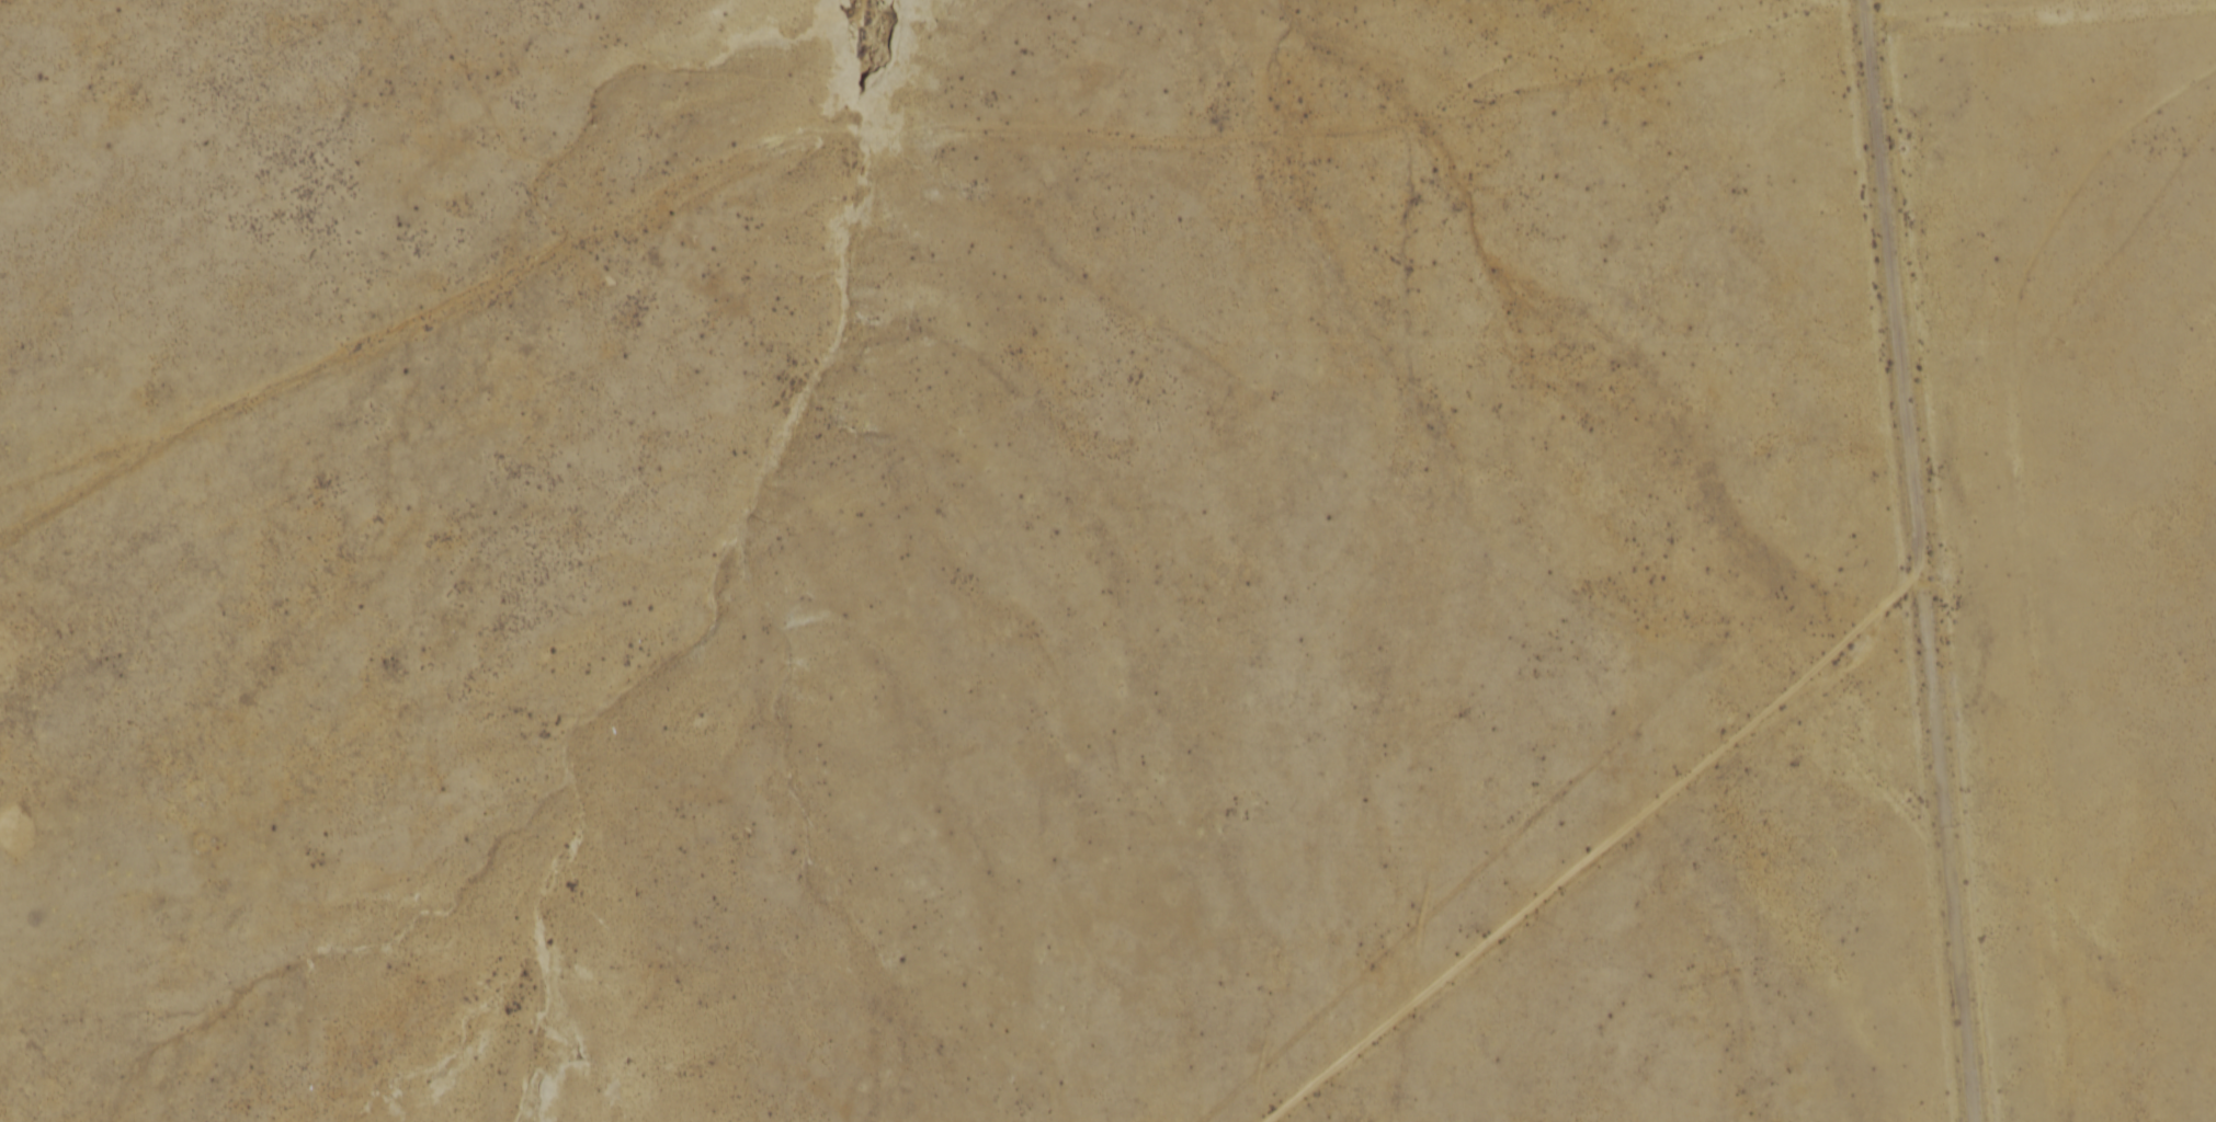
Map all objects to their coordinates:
airport runway: (2044, 10)
road: (1921, 560)
airport runway: (2013, 569)

